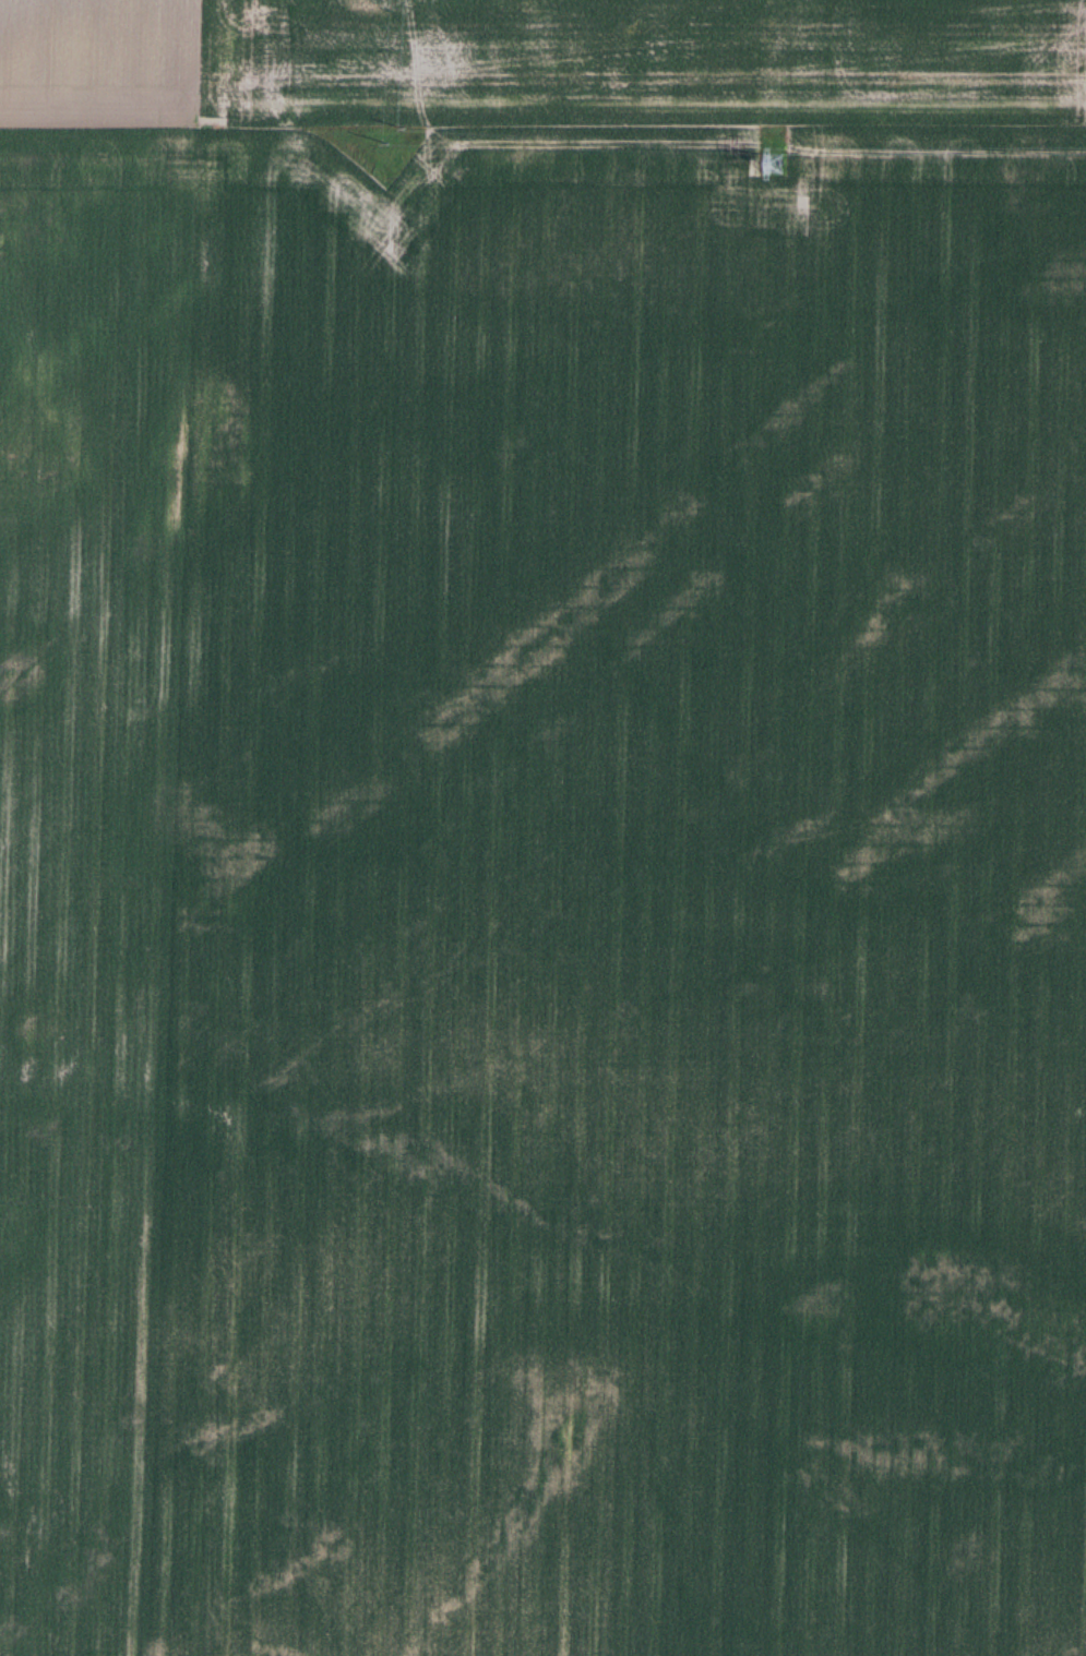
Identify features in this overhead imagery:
power tower: (393, 137)
road: (81, 163)
power tower: (771, 164)

